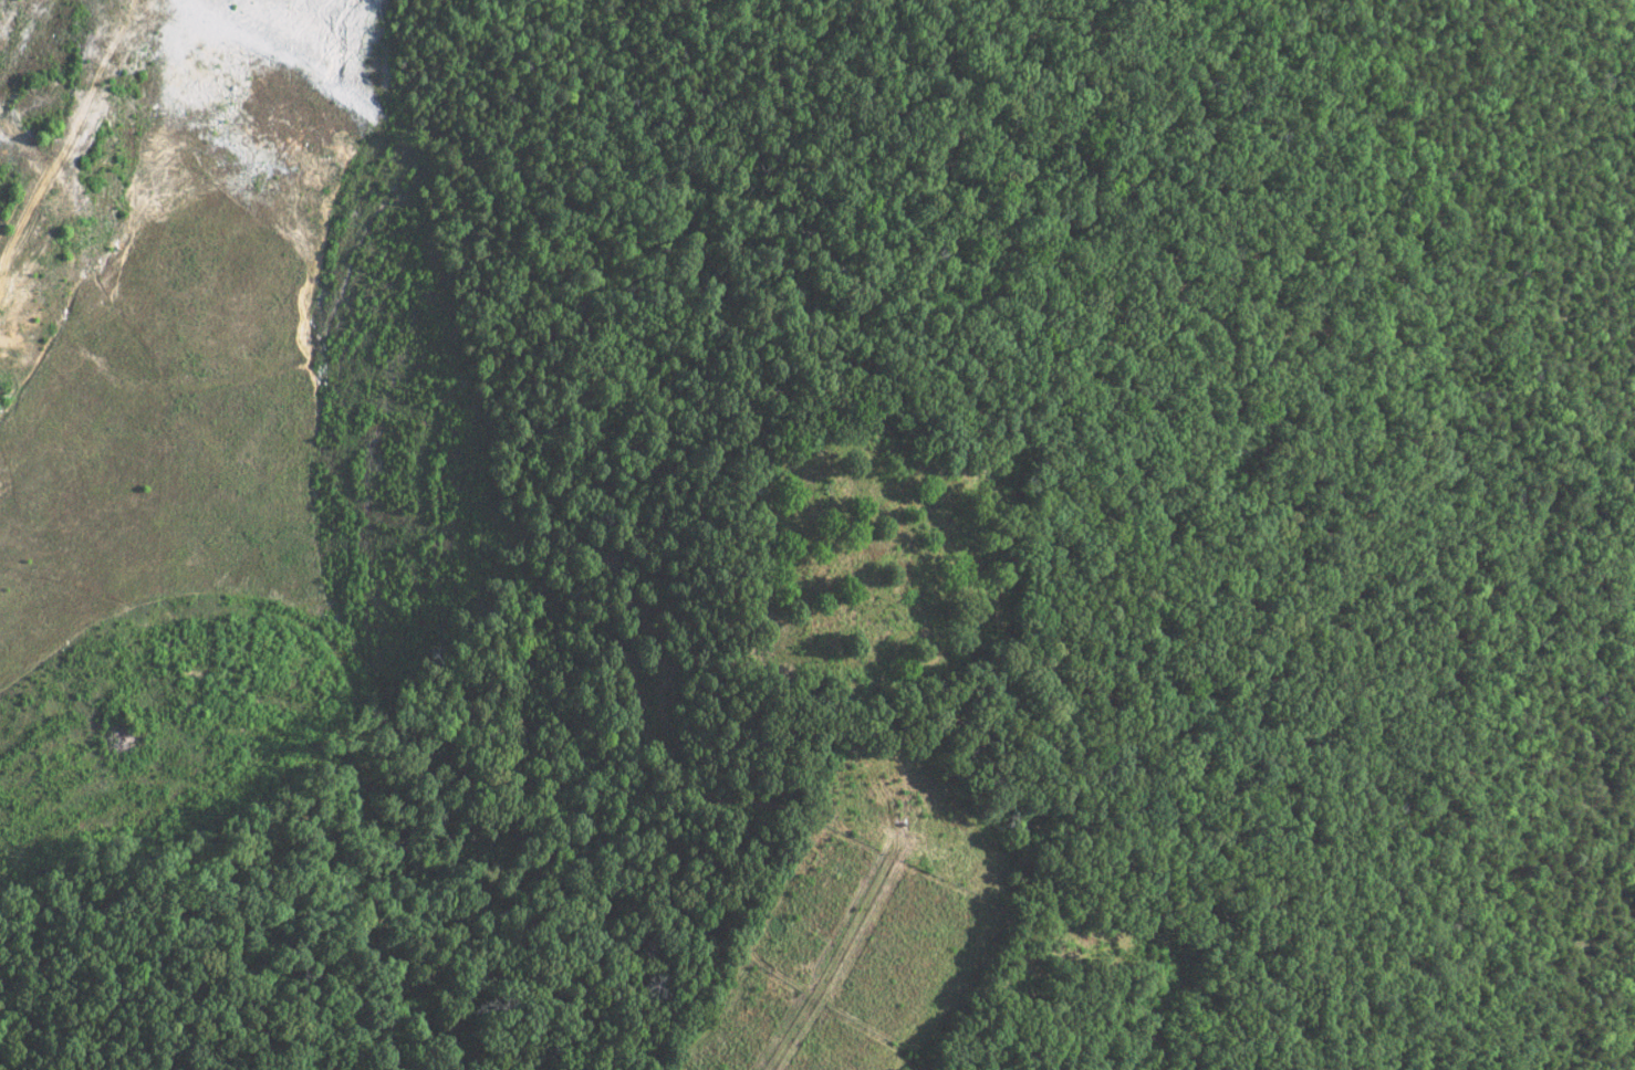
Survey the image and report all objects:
road: (62, 141)
quarry: (168, 291)

